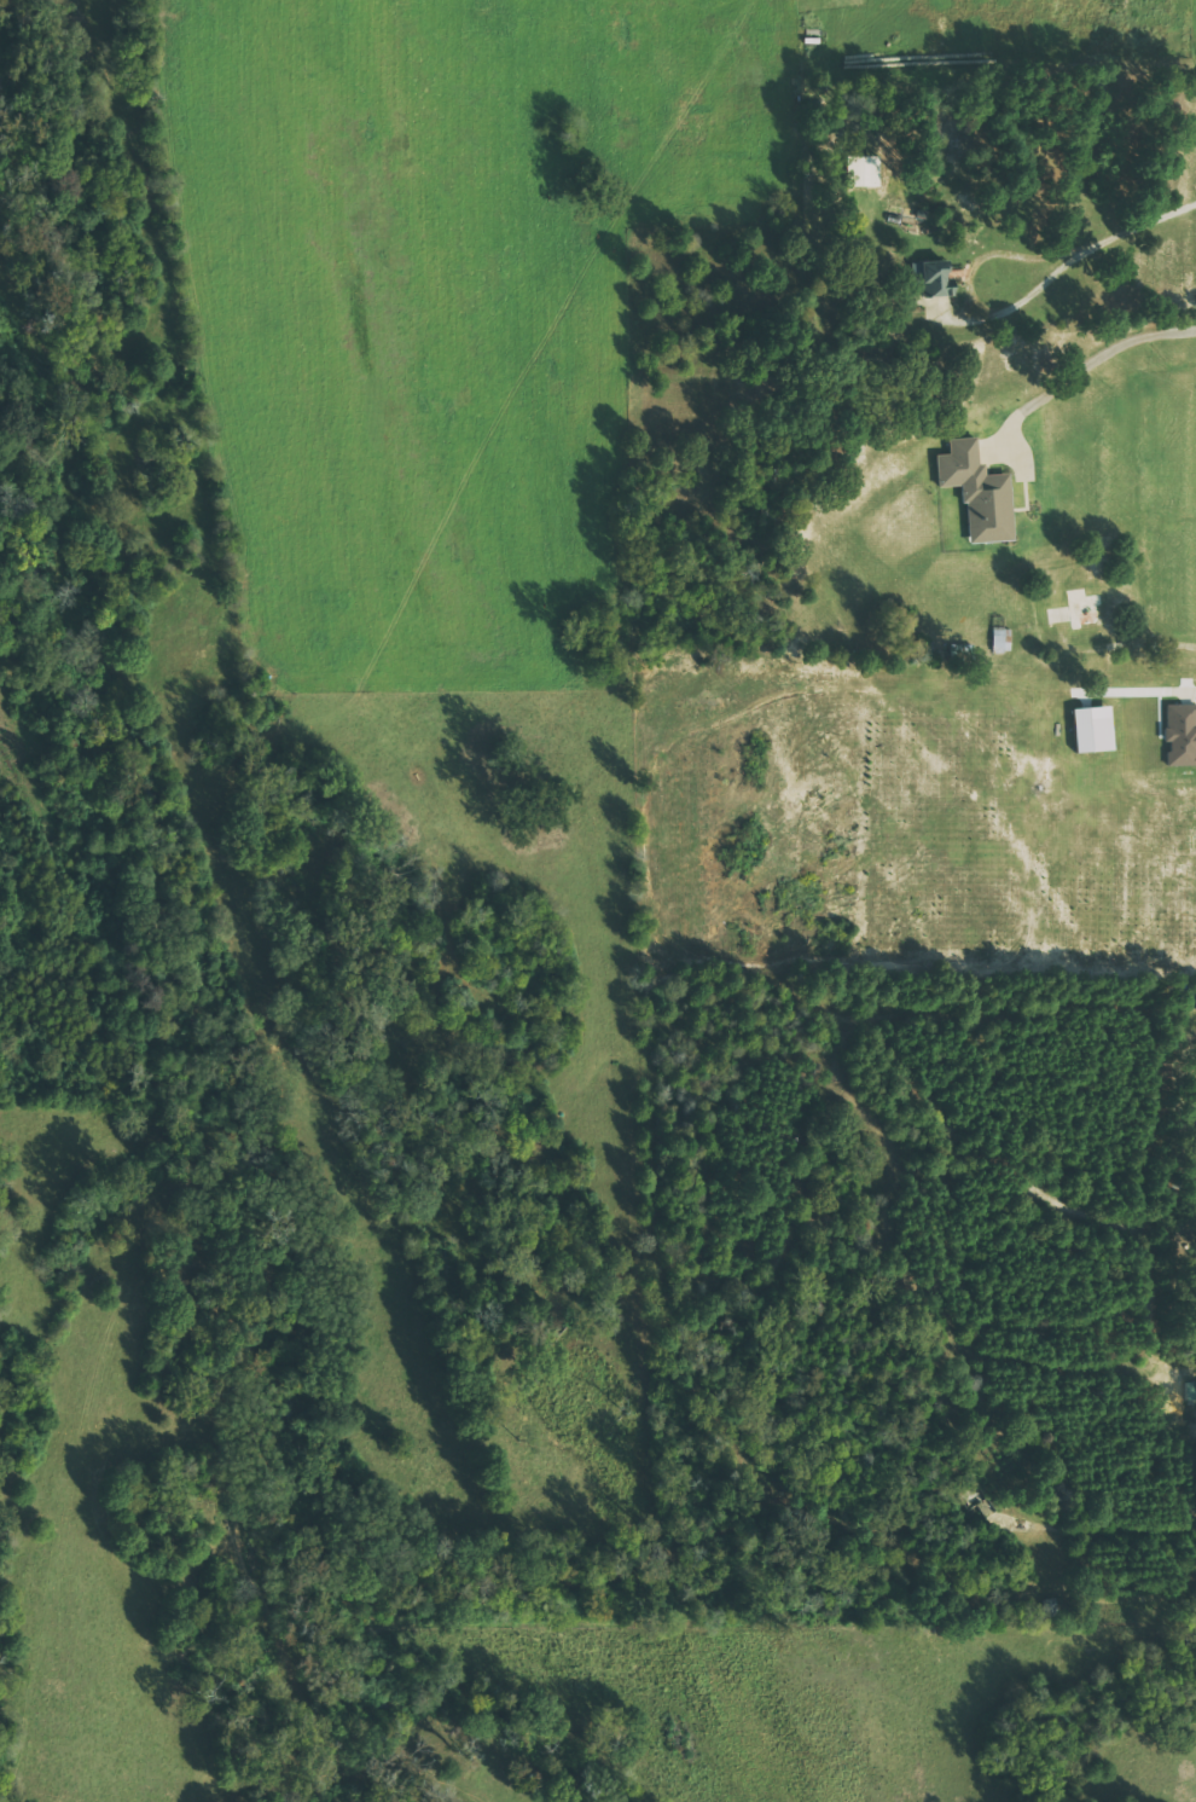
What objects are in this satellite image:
building: (865, 170)
building: (930, 277)
building: (977, 492)
building: (1001, 639)
building: (1180, 734)

